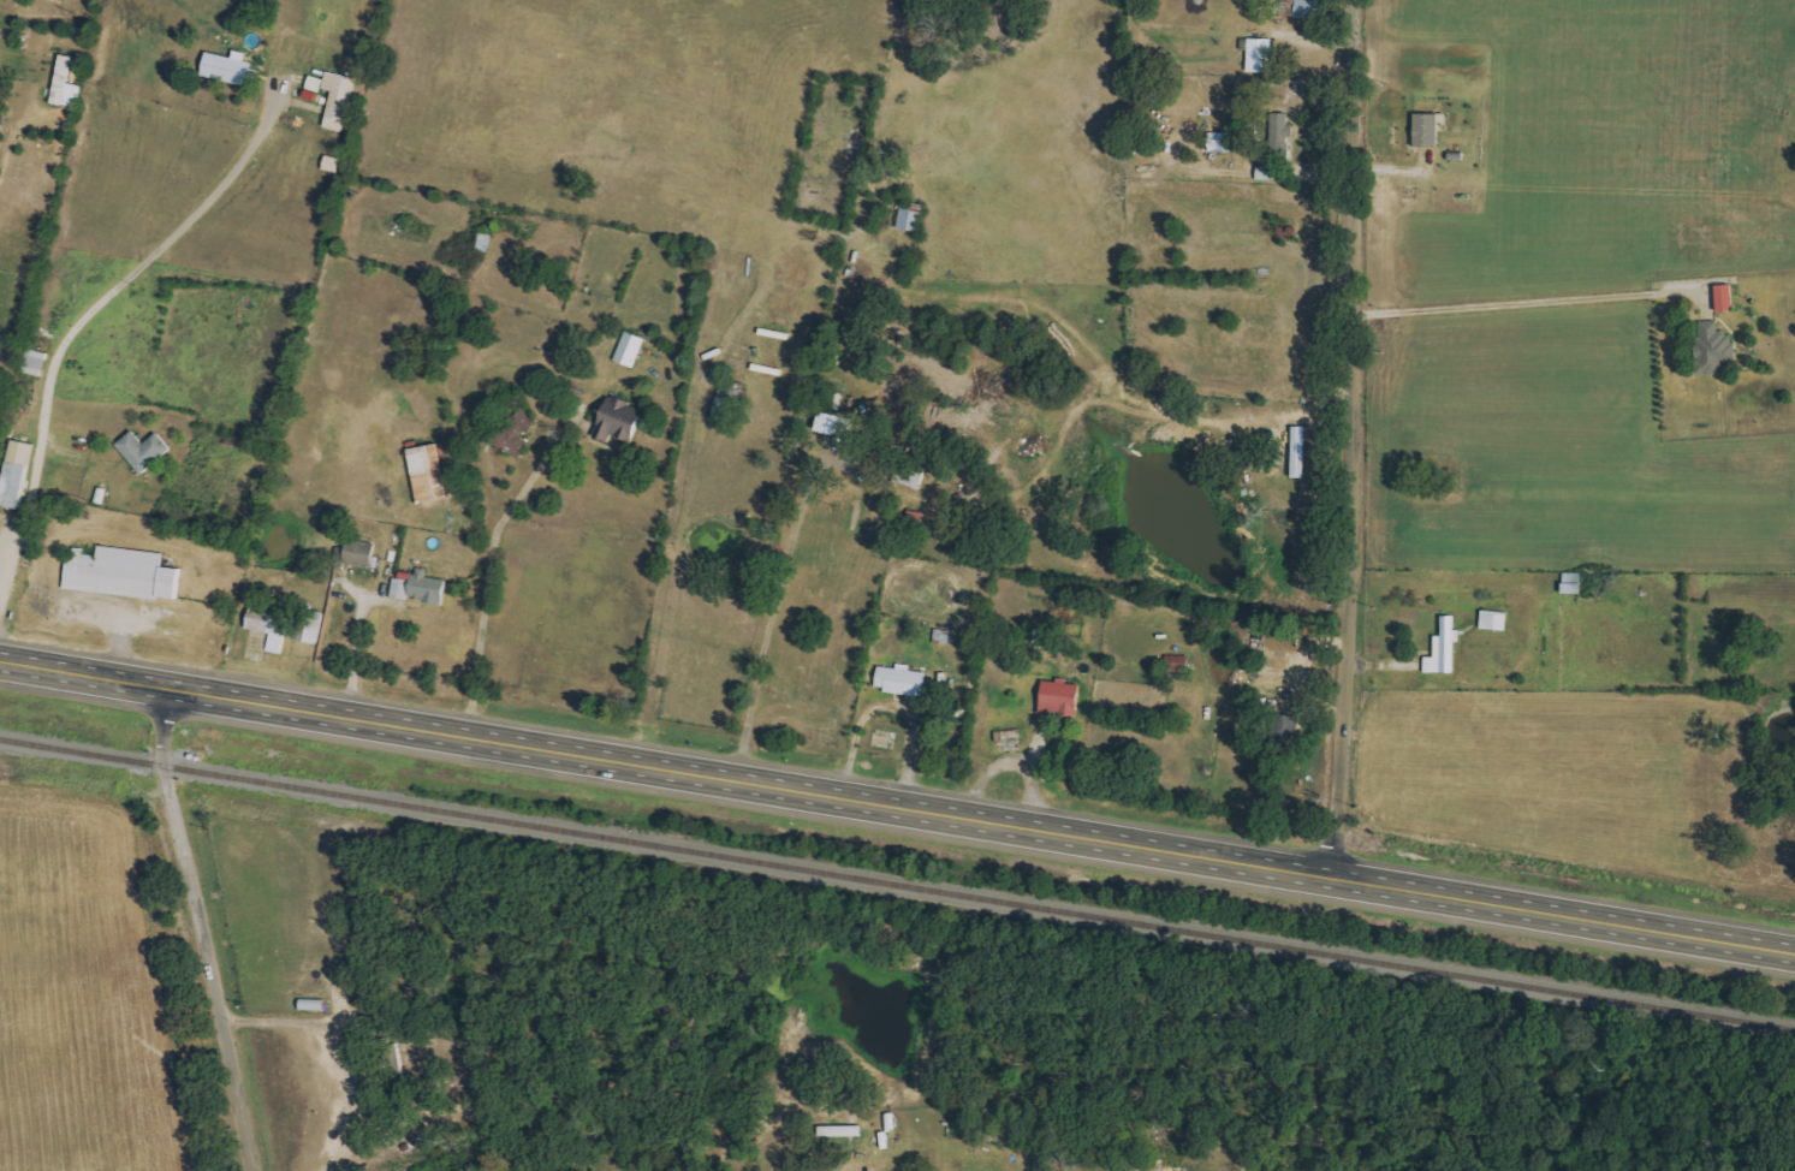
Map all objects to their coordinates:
building: (1313, 10)
building: (1260, 54)
building: (228, 69)
building: (67, 84)
building: (340, 100)
building: (1283, 127)
building: (1430, 129)
building: (1228, 143)
building: (1266, 173)
building: (913, 216)
road: (1520, 297)
building: (1726, 298)
road: (79, 325)
building: (631, 349)
building: (1716, 349)
building: (729, 402)
building: (622, 421)
building: (838, 424)
building: (518, 433)
road: (1348, 435)
building: (145, 450)
building: (24, 452)
building: (1300, 452)
building: (430, 474)
building: (913, 475)
building: (17, 485)
building: (358, 553)
road: (491, 566)
building: (125, 573)
building: (1574, 583)
building: (430, 588)
building: (402, 589)
road: (772, 613)
building: (311, 625)
building: (272, 628)
building: (1445, 648)
road: (355, 654)
building: (1178, 664)
building: (903, 680)
building: (1062, 699)
road: (892, 706)
building: (1009, 735)
road: (897, 801)
railway: (897, 882)
road: (200, 929)
road: (332, 1046)

